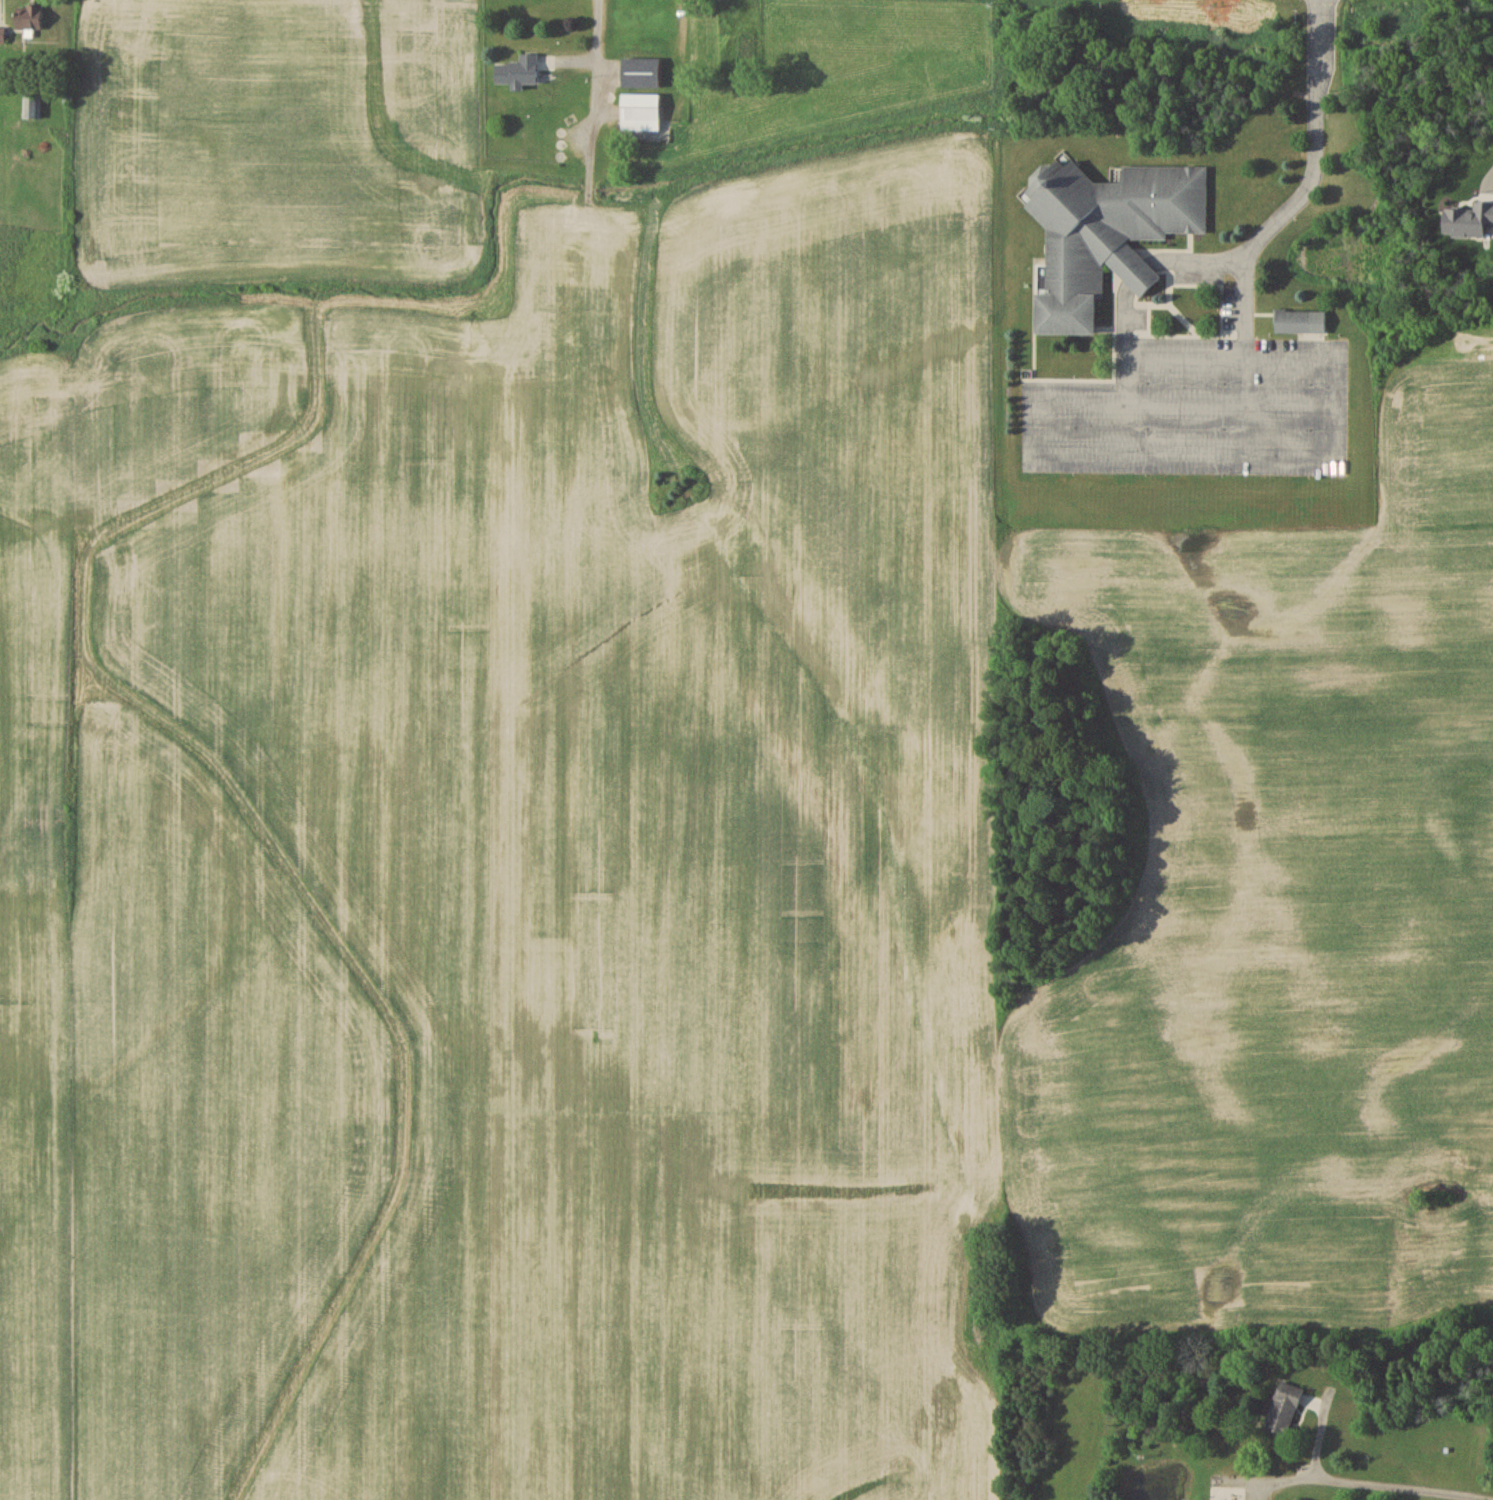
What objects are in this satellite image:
building: (29, 16)
building: (2, 34)
building: (518, 70)
building: (641, 72)
road: (592, 77)
building: (30, 104)
building: (640, 111)
building: (1106, 233)
road: (1194, 261)
road: (1136, 274)
building: (1300, 321)
road: (1180, 356)
road: (1227, 403)
road: (1332, 448)
building: (1284, 1406)
road: (1379, 1480)

